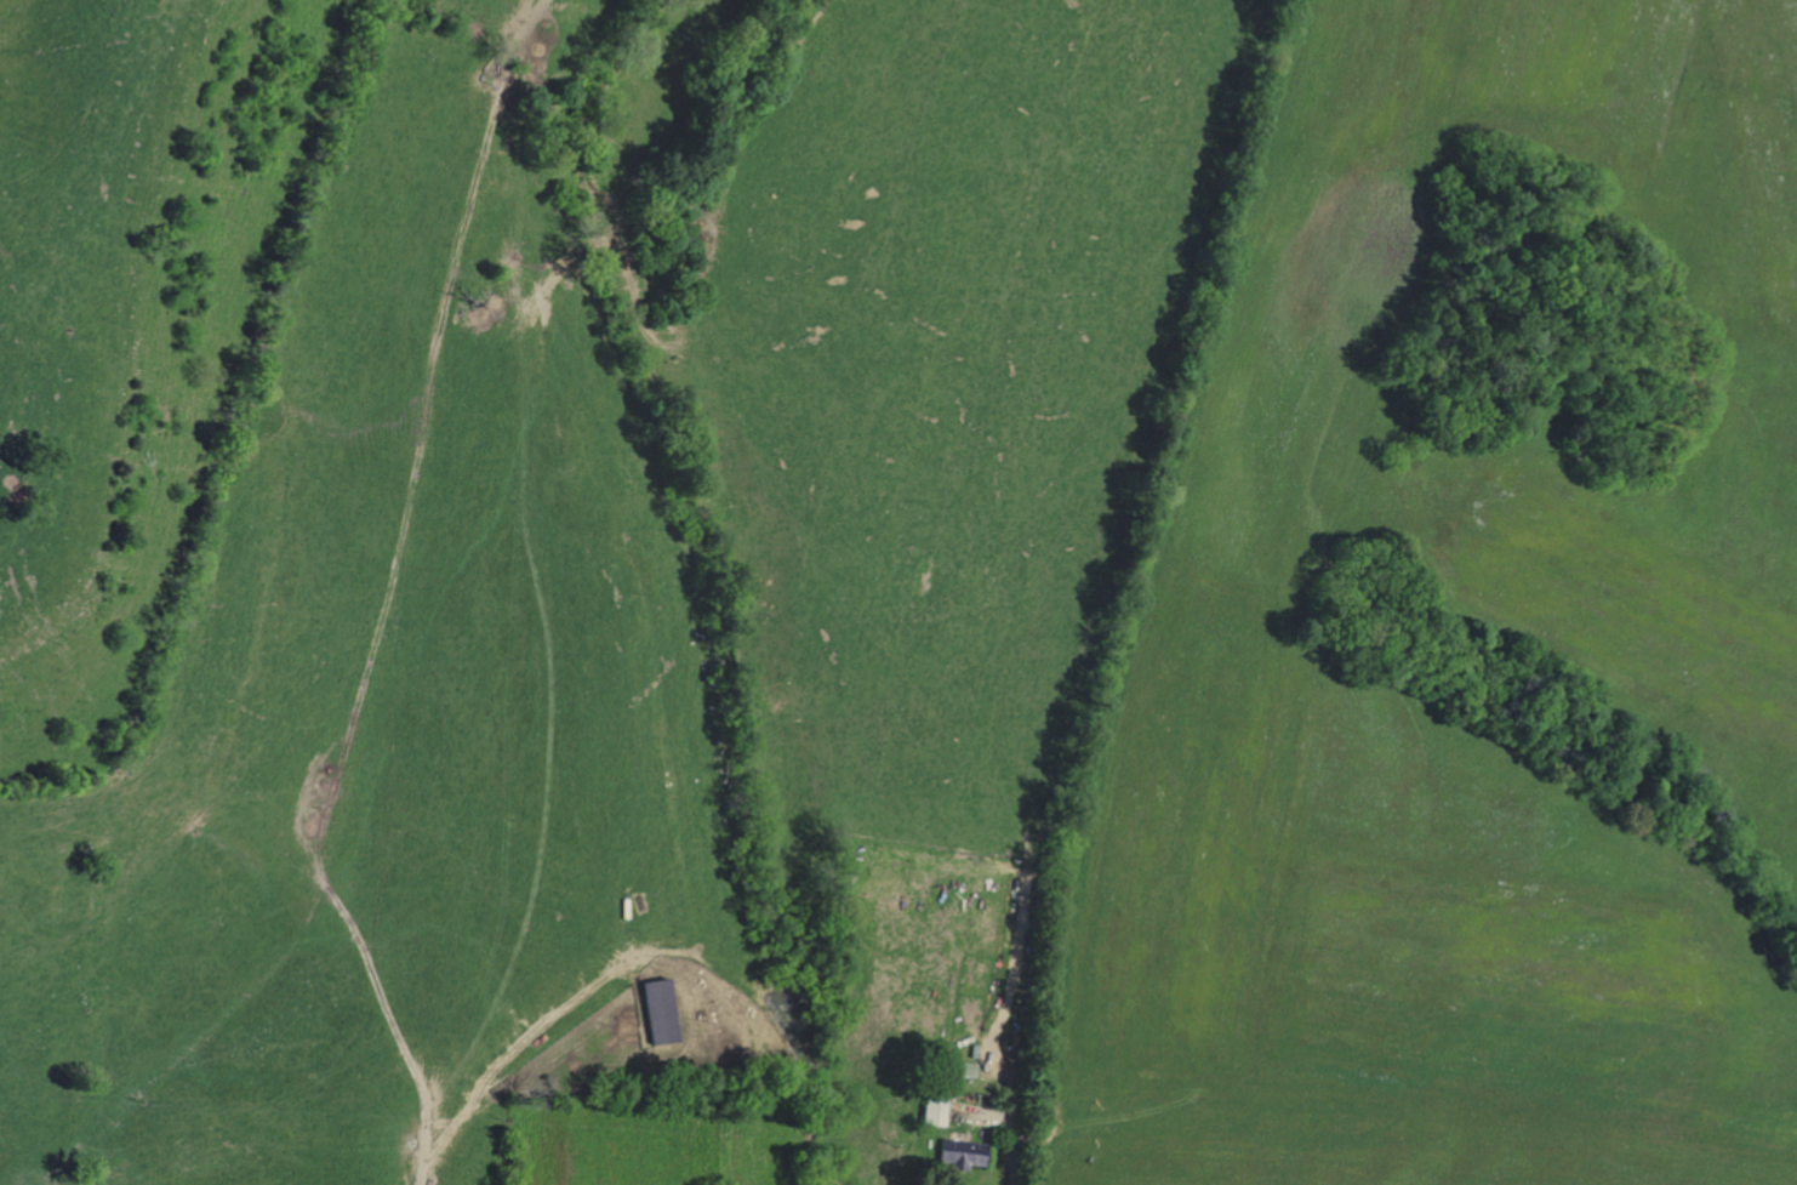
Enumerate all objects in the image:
building: (656, 1013)
building: (964, 1070)
building: (931, 1110)
road: (1015, 1157)

